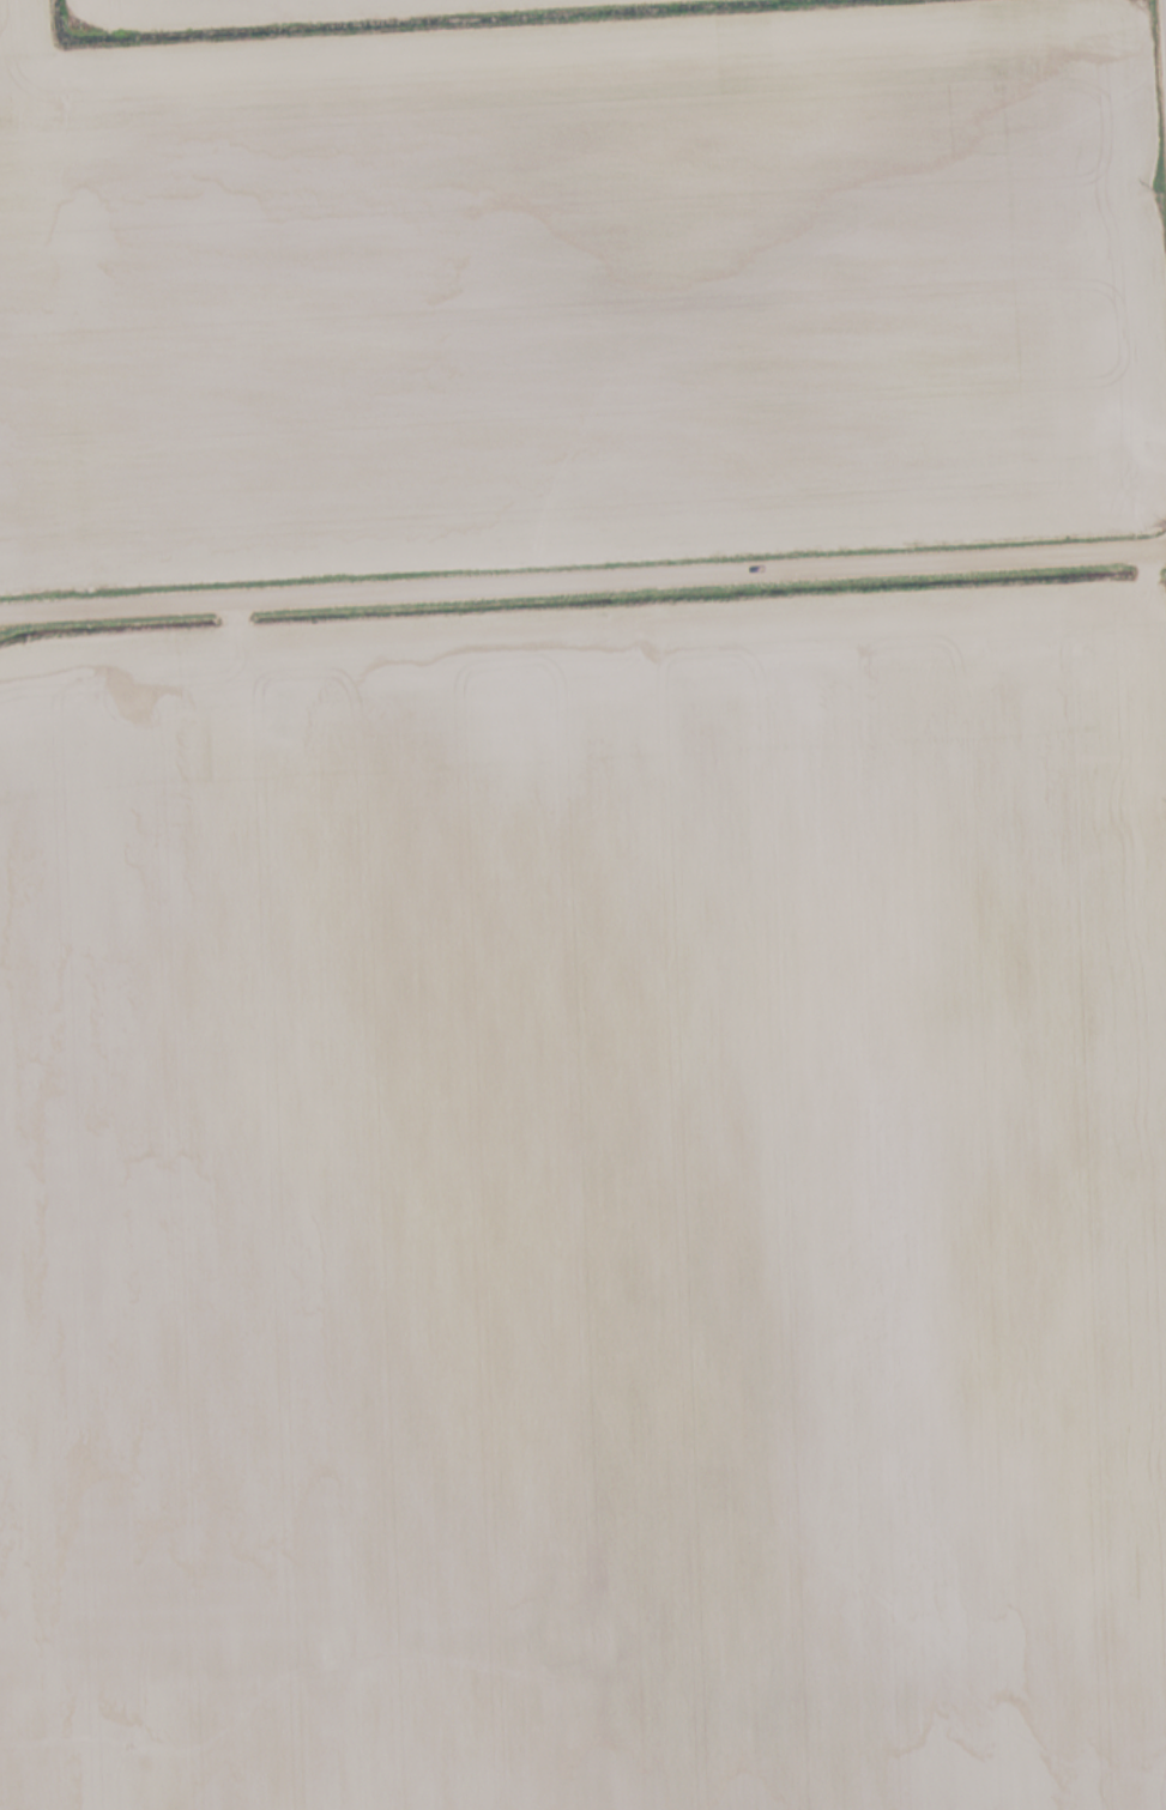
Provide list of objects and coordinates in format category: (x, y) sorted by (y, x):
road: (1165, 17)
road: (582, 581)

